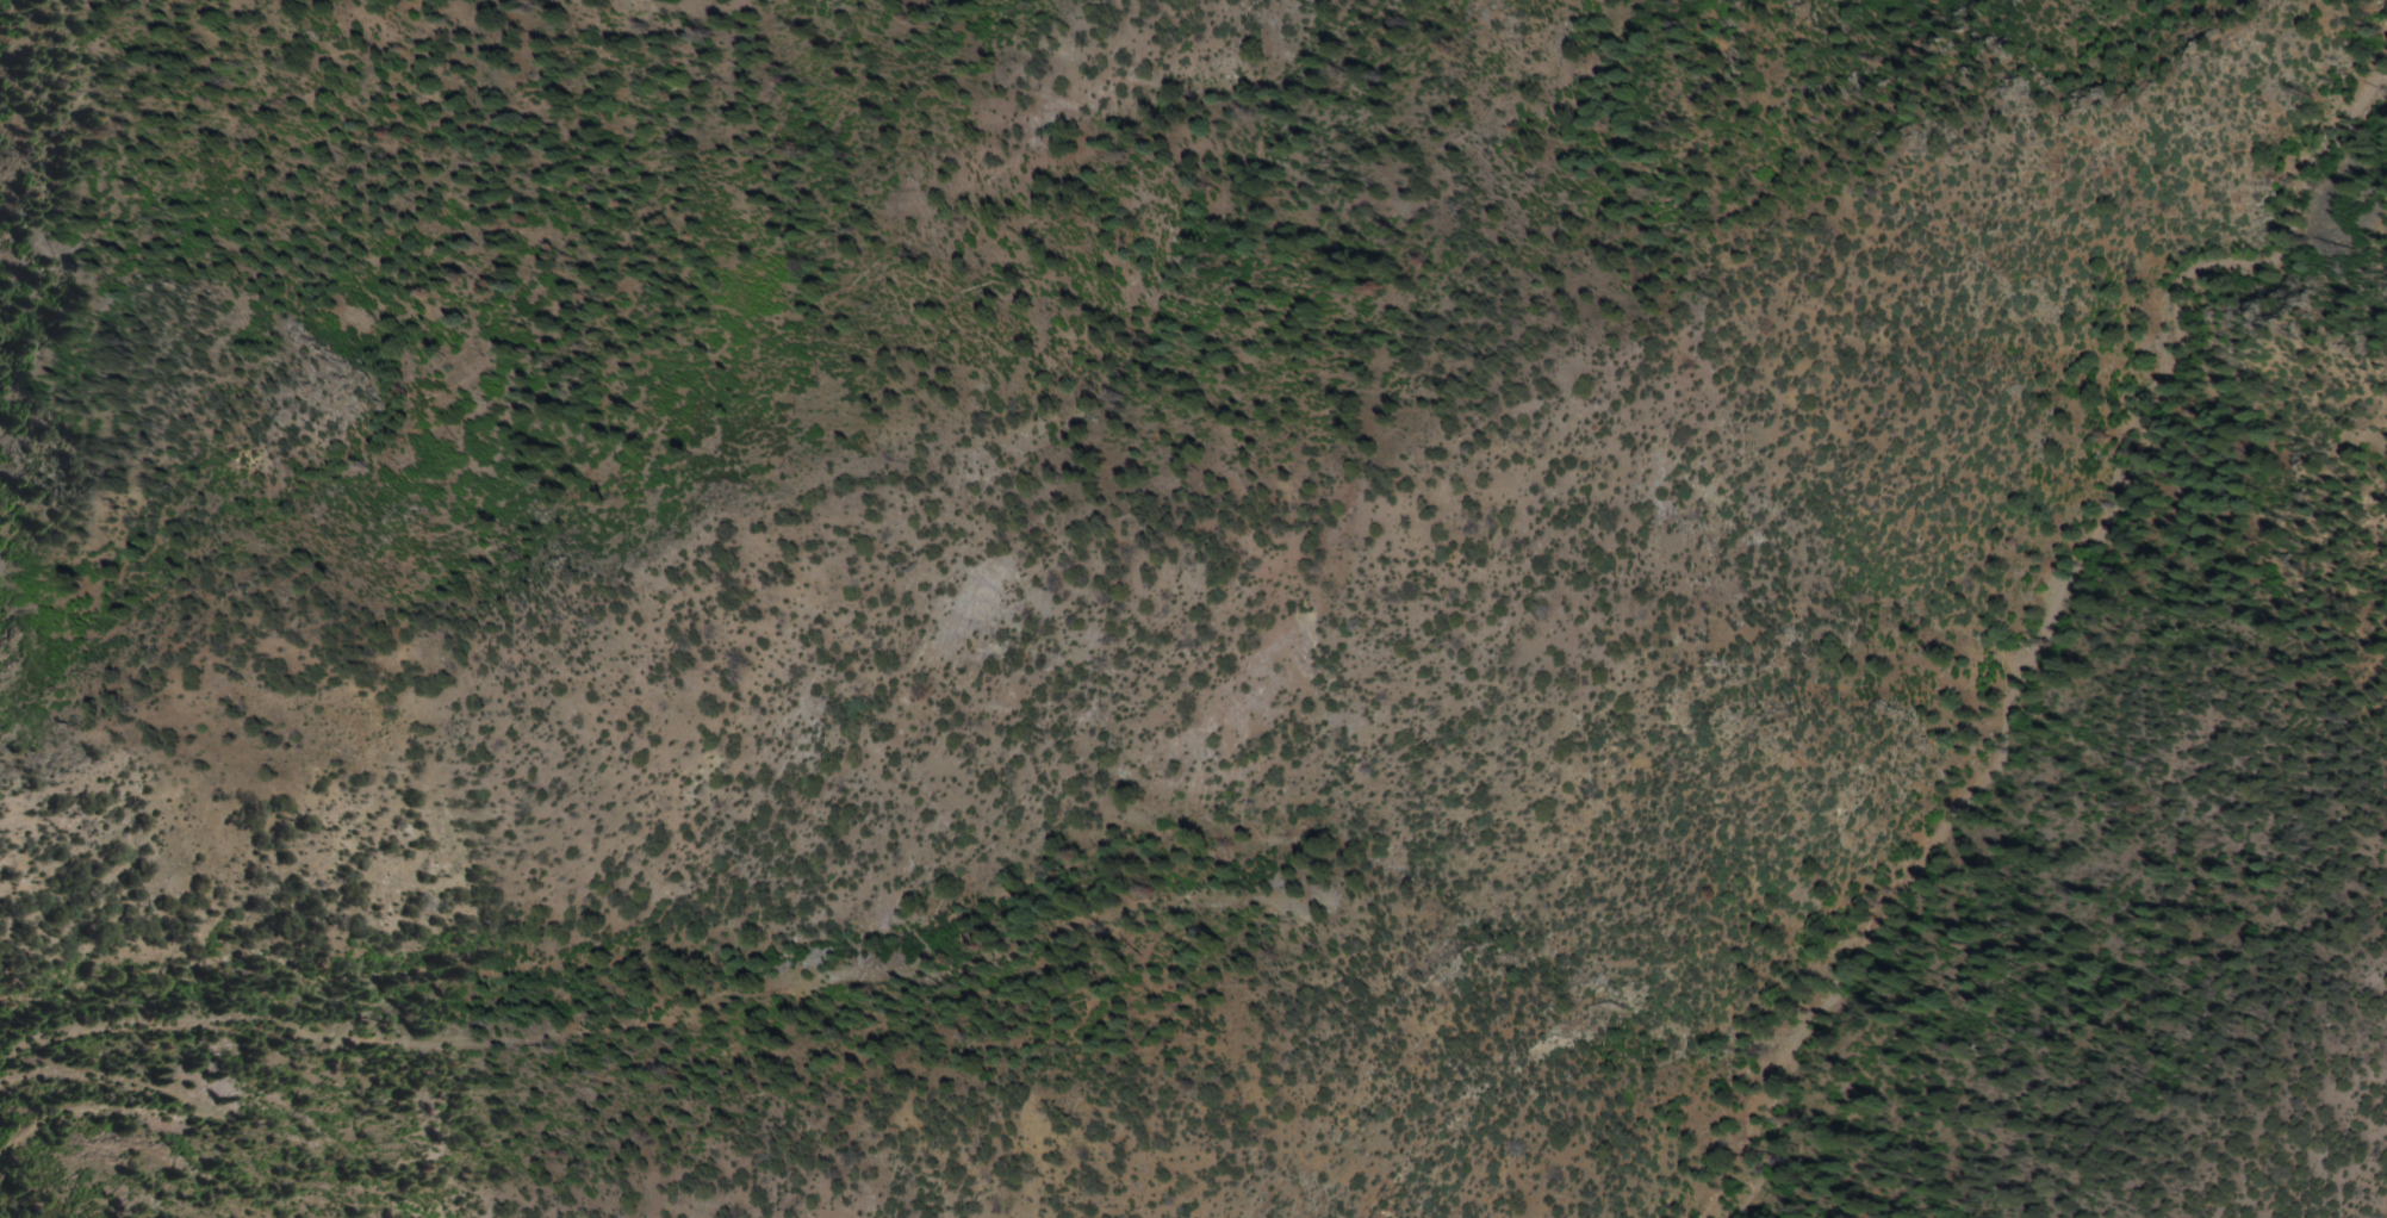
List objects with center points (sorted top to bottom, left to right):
road: (2008, 627)
road: (663, 1020)
road: (198, 1114)

